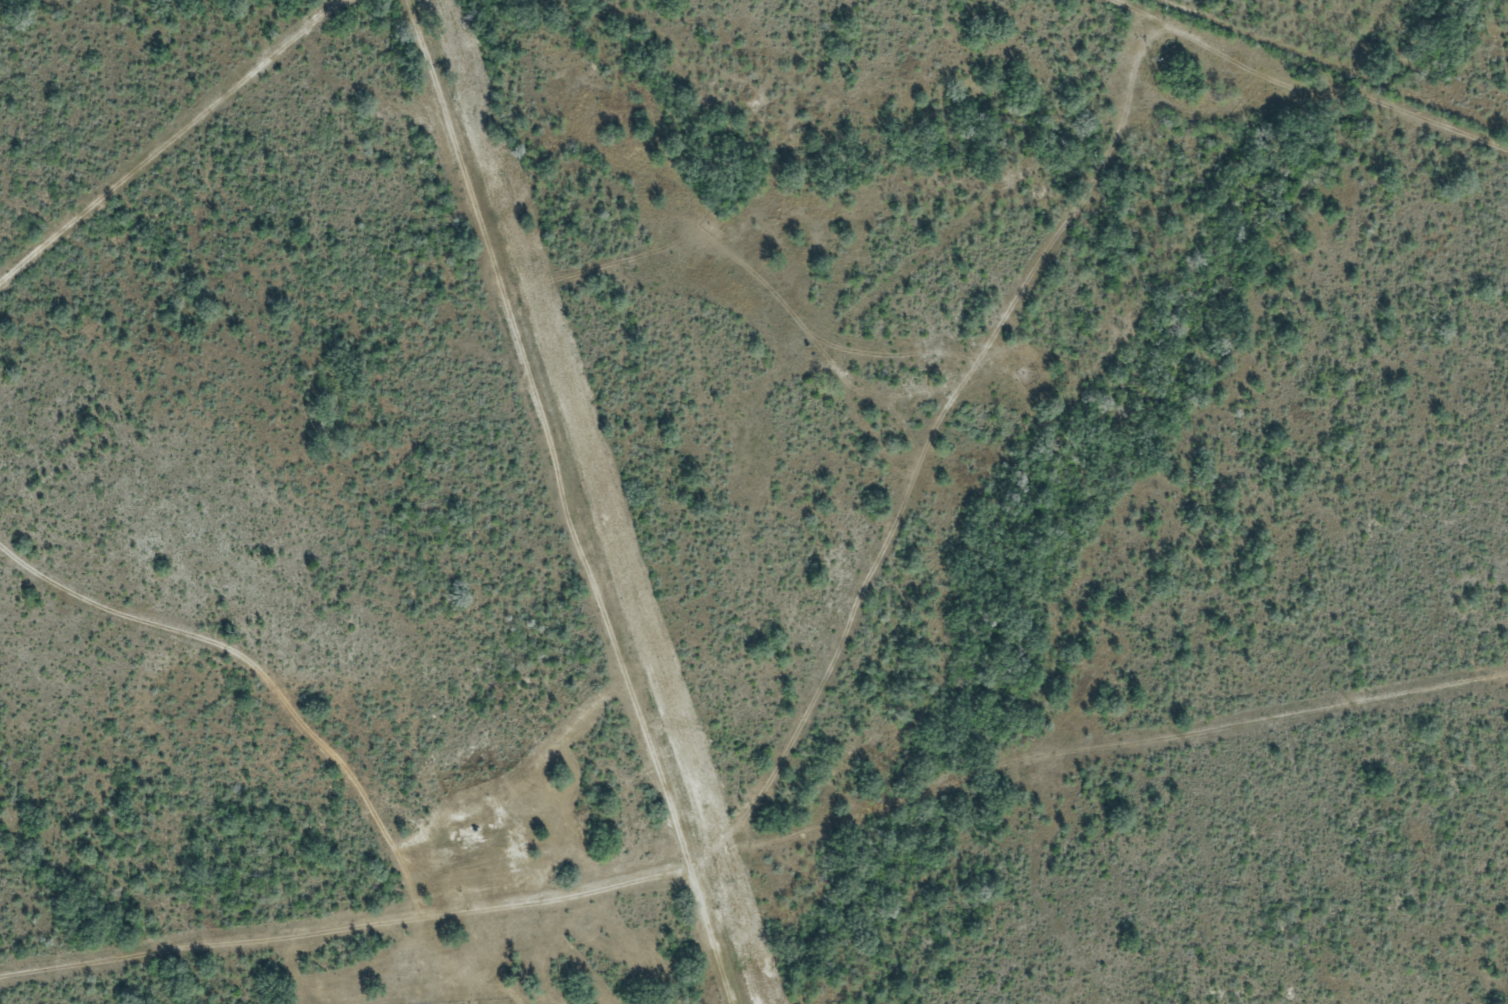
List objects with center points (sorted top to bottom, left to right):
road: (1194, 14)
road: (169, 139)

